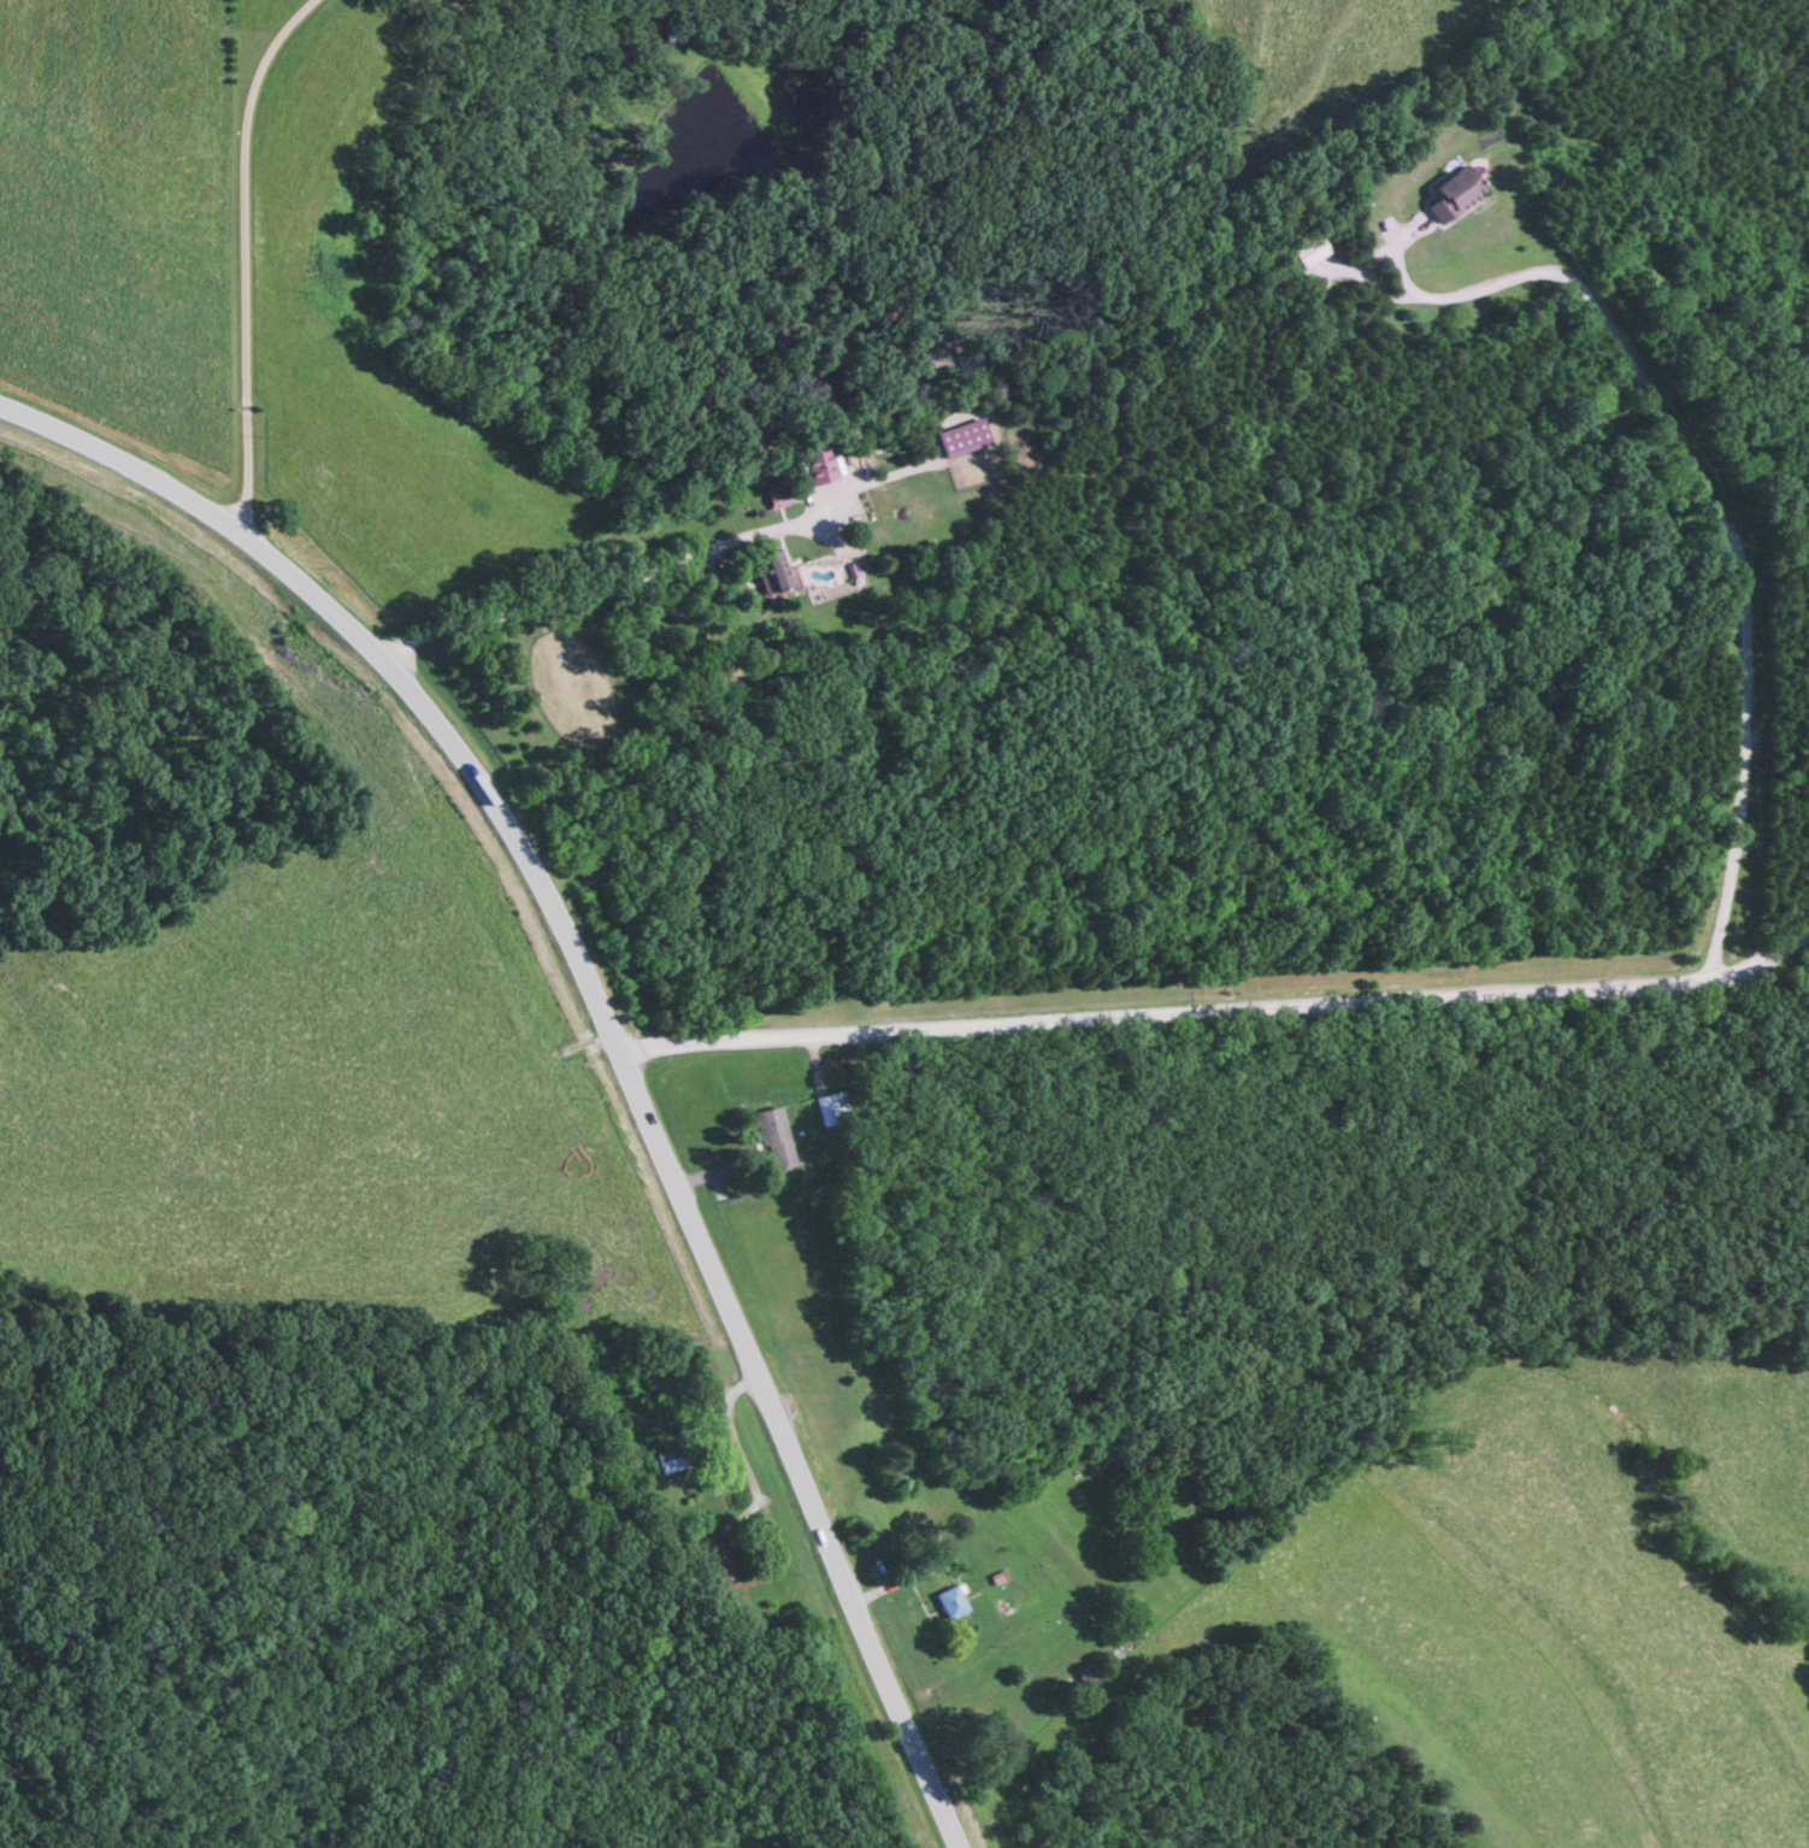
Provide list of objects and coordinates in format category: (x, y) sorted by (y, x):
building: (1451, 194)
building: (1307, 253)
road: (243, 257)
building: (960, 441)
building: (814, 469)
building: (773, 500)
road: (658, 569)
building: (766, 572)
road: (689, 608)
road: (1218, 1005)
road: (603, 1028)
building: (832, 1112)
building: (768, 1142)
building: (665, 1461)
building: (709, 1561)
building: (945, 1603)

